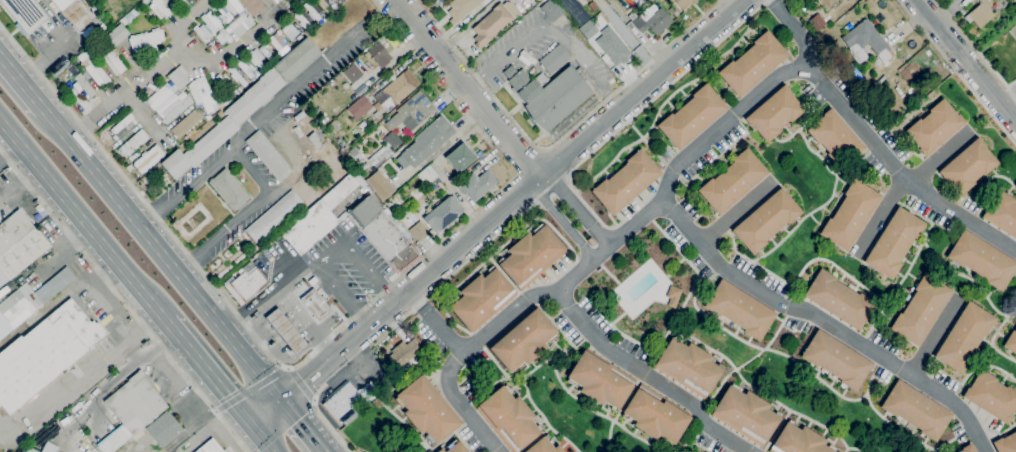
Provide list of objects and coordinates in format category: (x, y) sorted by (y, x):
building: (537, 0)
building: (182, 1)
building: (336, 1)
building: (529, 1)
building: (582, 2)
building: (639, 2)
building: (965, 2)
building: (684, 3)
building: (322, 4)
building: (230, 5)
building: (252, 6)
building: (592, 6)
building: (461, 8)
building: (551, 10)
building: (311, 11)
building: (574, 11)
building: (673, 11)
building: (26, 13)
building: (980, 13)
building: (77, 14)
building: (217, 14)
building: (301, 19)
building: (209, 20)
building: (653, 22)
building: (816, 22)
building: (239, 24)
road: (549, 24)
building: (491, 25)
road: (437, 26)
road: (796, 29)
building: (588, 30)
building: (203, 33)
building: (117, 34)
building: (225, 36)
building: (299, 37)
road: (624, 37)
building: (146, 39)
road: (238, 39)
building: (276, 41)
building: (865, 43)
building: (612, 46)
road: (976, 48)
building: (264, 51)
building: (378, 54)
building: (552, 57)
building: (254, 59)
building: (297, 59)
road: (969, 61)
building: (113, 63)
building: (752, 64)
building: (244, 68)
building: (94, 70)
building: (910, 71)
road: (956, 71)
building: (352, 72)
building: (509, 72)
building: (236, 75)
building: (178, 76)
road: (149, 77)
building: (383, 81)
road: (476, 82)
building: (224, 83)
building: (84, 85)
road: (465, 86)
road: (20, 87)
building: (238, 90)
building: (394, 93)
building: (202, 94)
building: (551, 94)
building: (159, 96)
road: (1007, 96)
road: (609, 97)
road: (278, 105)
building: (359, 107)
building: (176, 108)
building: (411, 112)
building: (774, 113)
building: (692, 117)
building: (186, 123)
building: (335, 123)
building: (224, 124)
building: (123, 126)
building: (934, 127)
road: (571, 131)
building: (835, 139)
building: (315, 140)
building: (135, 141)
building: (389, 142)
building: (426, 142)
road: (10, 151)
road: (690, 152)
building: (268, 155)
building: (382, 157)
building: (460, 157)
building: (148, 158)
road: (439, 166)
building: (968, 166)
building: (128, 169)
building: (732, 181)
building: (626, 182)
building: (478, 184)
building: (380, 185)
road: (904, 185)
building: (230, 189)
building: (395, 202)
road: (259, 205)
road: (575, 206)
road: (497, 210)
road: (738, 211)
building: (441, 213)
building: (1002, 213)
building: (850, 215)
building: (274, 216)
building: (317, 217)
road: (150, 218)
road: (559, 218)
road: (83, 219)
road: (515, 219)
building: (766, 220)
building: (415, 226)
building: (13, 229)
building: (384, 233)
road: (76, 240)
building: (590, 241)
building: (894, 242)
road: (430, 250)
road: (332, 252)
building: (21, 254)
building: (531, 256)
road: (162, 257)
building: (982, 260)
road: (189, 268)
road: (201, 270)
road: (112, 281)
road: (92, 285)
building: (246, 286)
road: (284, 290)
railway: (125, 293)
road: (390, 294)
building: (673, 295)
building: (482, 298)
building: (838, 299)
building: (29, 300)
road: (123, 301)
building: (316, 304)
building: (740, 310)
building: (920, 310)
road: (364, 317)
road: (438, 321)
road: (827, 321)
road: (236, 326)
building: (286, 330)
gas station: (286, 330)
road: (938, 336)
building: (964, 337)
building: (523, 339)
building: (1011, 342)
building: (406, 351)
building: (44, 353)
building: (836, 360)
building: (688, 366)
road: (211, 374)
road: (83, 375)
road: (646, 375)
building: (598, 381)
road: (301, 383)
road: (250, 389)
building: (991, 397)
building: (347, 401)
traffic signals: (284, 405)
building: (132, 409)
building: (426, 410)
building: (916, 410)
building: (745, 414)
building: (656, 415)
building: (509, 418)
traffic signals: (257, 428)
road: (305, 428)
building: (164, 429)
road: (266, 440)
building: (798, 440)
building: (1006, 443)
building: (543, 446)
building: (209, 447)
building: (456, 447)
building: (48, 448)
building: (967, 448)
building: (32, 450)
building: (87, 450)
building: (440, 450)

